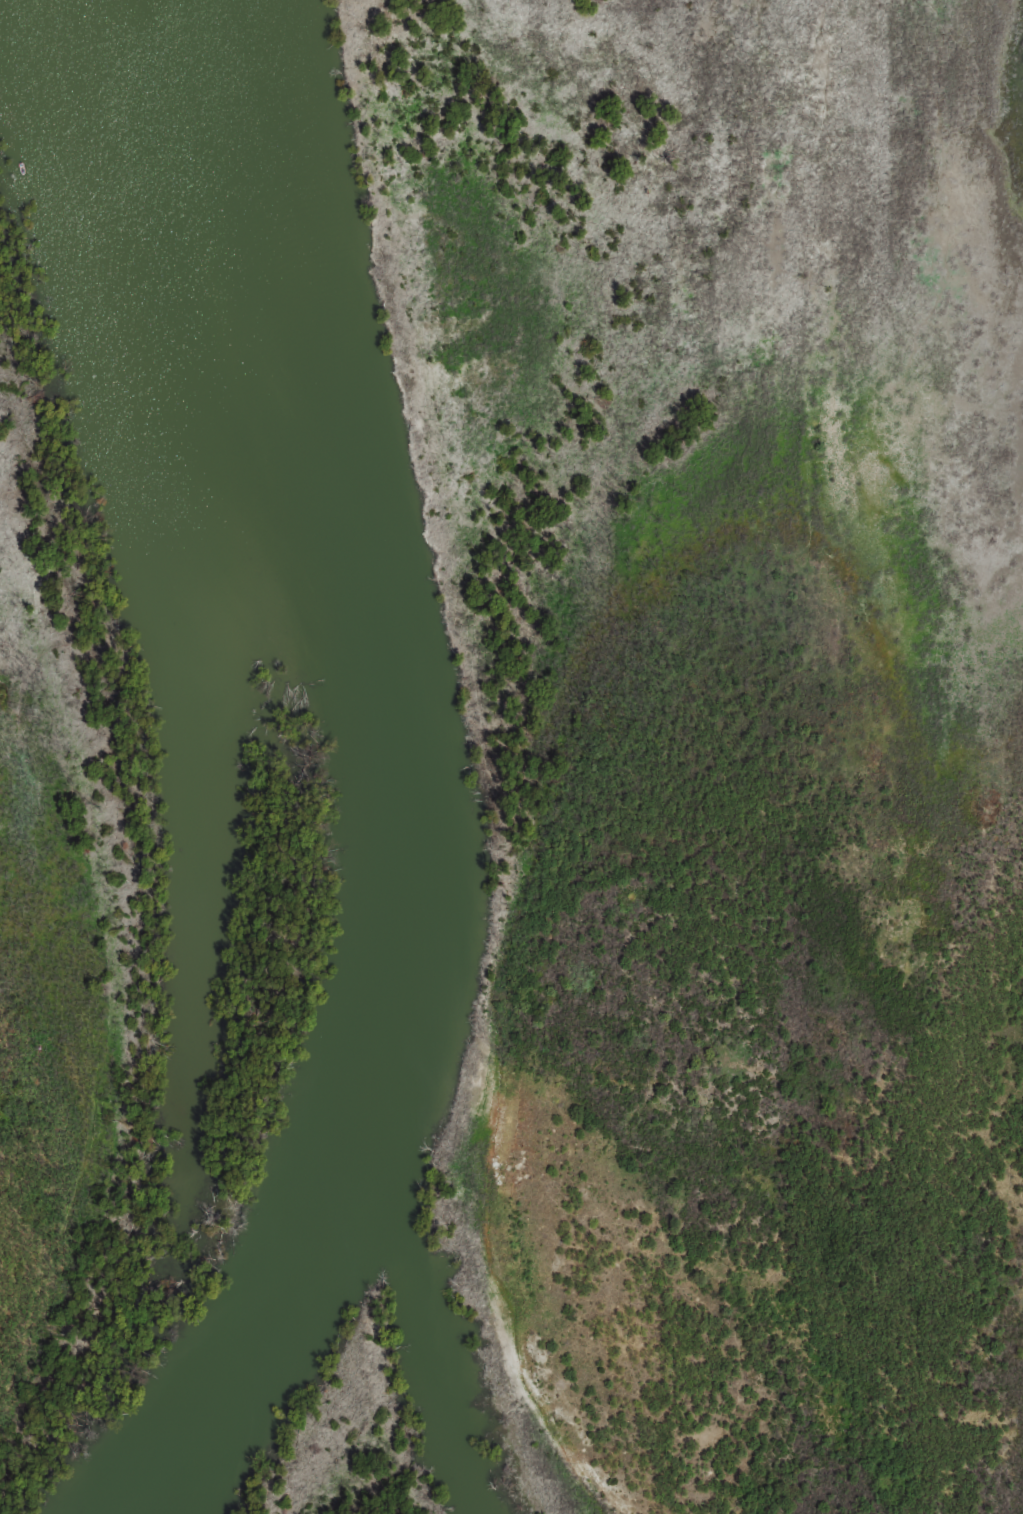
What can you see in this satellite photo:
river: (374, 772)

